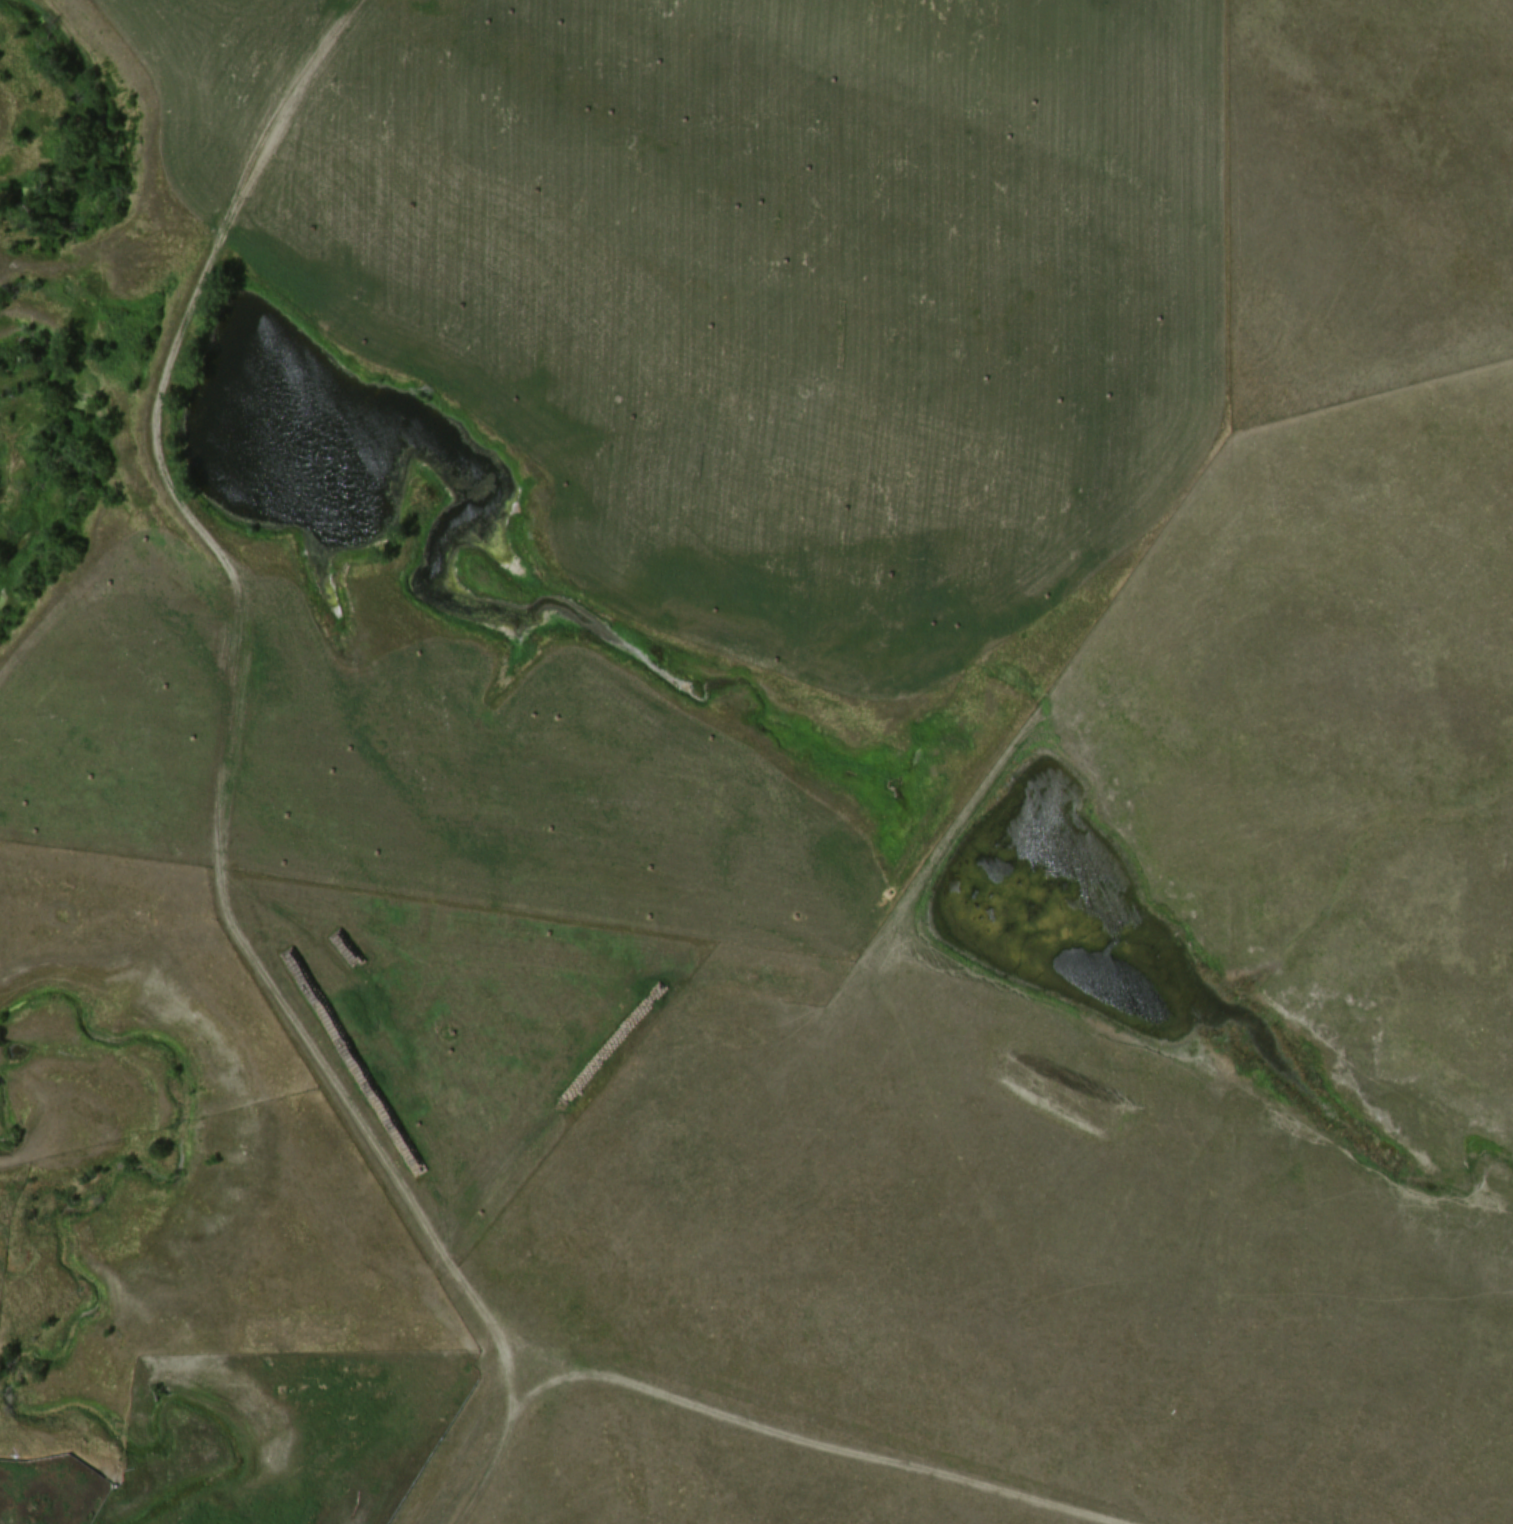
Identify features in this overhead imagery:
building: (859, 1266)
building: (1, 1422)

